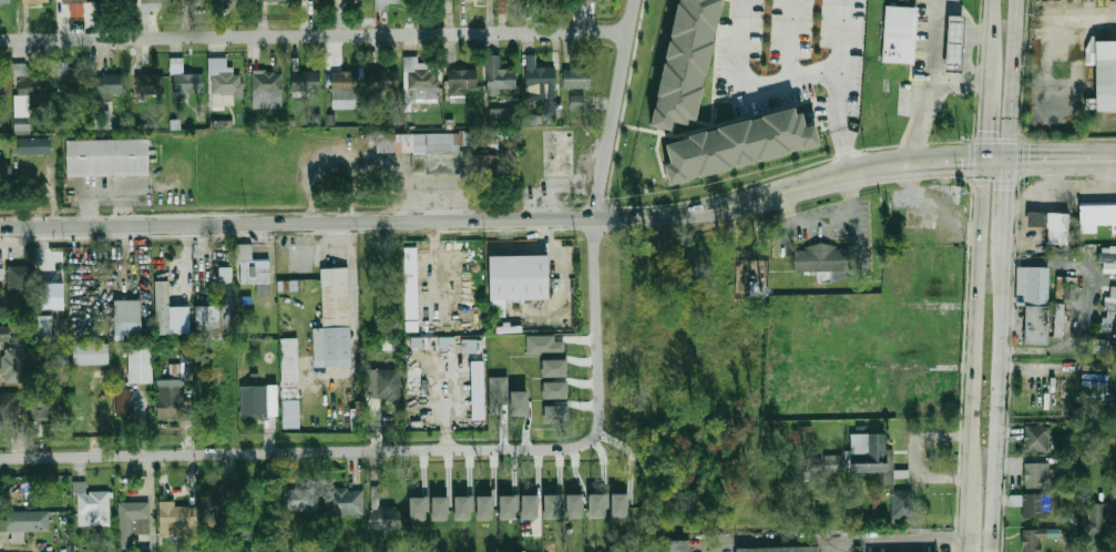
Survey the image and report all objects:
building: (75, 0)
building: (233, 0)
building: (276, 0)
building: (597, 0)
building: (4, 1)
building: (35, 1)
building: (194, 1)
road: (994, 2)
building: (116, 3)
building: (150, 4)
building: (392, 4)
road: (939, 9)
building: (899, 33)
road: (314, 34)
road: (789, 39)
building: (952, 43)
gas station: (952, 43)
building: (683, 63)
road: (839, 63)
building: (1104, 74)
building: (498, 75)
road: (1020, 76)
building: (576, 78)
road: (987, 79)
building: (306, 80)
building: (385, 80)
building: (68, 81)
road: (754, 81)
building: (420, 82)
building: (460, 82)
building: (227, 83)
building: (110, 84)
building: (150, 84)
building: (188, 84)
building: (541, 84)
building: (3, 85)
building: (267, 86)
building: (345, 90)
road: (932, 93)
building: (25, 95)
building: (576, 102)
building: (501, 114)
building: (102, 115)
traffic signals: (985, 124)
building: (419, 139)
building: (33, 146)
building: (736, 146)
road: (843, 147)
building: (107, 153)
road: (1065, 153)
road: (999, 154)
traffic signals: (1032, 154)
traffic signals: (964, 155)
road: (917, 159)
building: (485, 166)
building: (6, 178)
road: (815, 178)
traffic signals: (1014, 184)
building: (1097, 213)
road: (828, 218)
road: (392, 219)
building: (1053, 222)
road: (1012, 227)
road: (595, 229)
building: (1107, 254)
building: (822, 257)
building: (253, 270)
building: (519, 275)
building: (1035, 280)
building: (19, 288)
building: (1066, 289)
building: (411, 290)
building: (49, 296)
building: (1112, 298)
building: (244, 299)
road: (1083, 303)
building: (217, 310)
building: (168, 311)
road: (977, 316)
building: (336, 317)
building: (127, 318)
building: (1059, 320)
building: (1038, 321)
building: (42, 325)
building: (60, 326)
building: (1108, 326)
building: (3, 331)
building: (45, 338)
building: (418, 346)
building: (448, 346)
building: (543, 346)
building: (1100, 346)
building: (470, 348)
building: (91, 354)
building: (12, 364)
building: (139, 364)
building: (184, 366)
building: (554, 368)
building: (291, 380)
building: (381, 384)
building: (554, 390)
building: (479, 393)
building: (498, 395)
building: (171, 399)
building: (254, 400)
building: (123, 403)
building: (519, 403)
building: (9, 406)
building: (39, 407)
building: (556, 413)
road: (1002, 426)
building: (1037, 438)
road: (284, 451)
road: (921, 452)
building: (878, 454)
building: (1035, 476)
building: (304, 500)
building: (344, 502)
building: (217, 503)
building: (901, 503)
building: (1033, 504)
building: (91, 505)
building: (620, 505)
building: (509, 507)
building: (552, 507)
building: (574, 507)
building: (595, 507)
building: (419, 508)
building: (462, 508)
building: (484, 508)
building: (530, 508)
building: (440, 509)
building: (383, 515)
road: (970, 515)
building: (175, 520)
building: (1093, 520)
building: (132, 522)
building: (27, 523)
road: (898, 535)
road: (771, 539)
building: (1032, 540)
building: (676, 546)
building: (780, 550)

